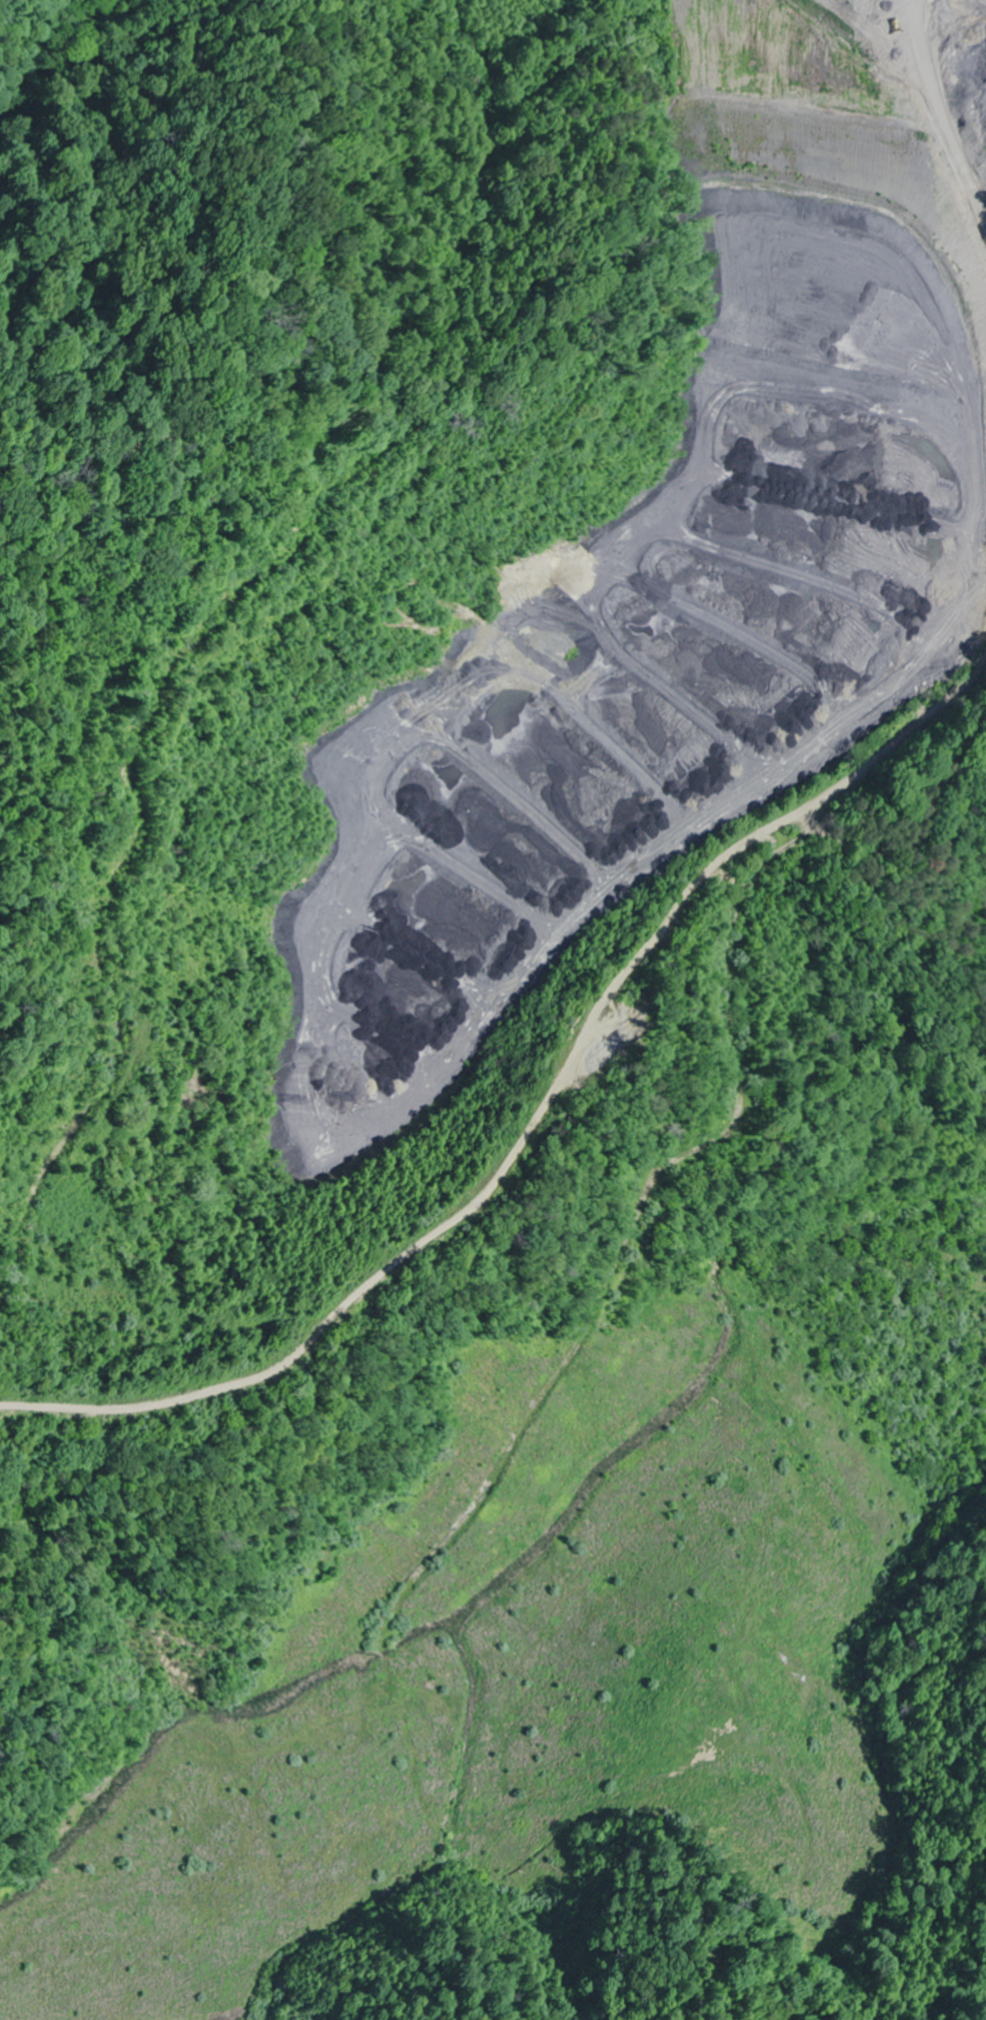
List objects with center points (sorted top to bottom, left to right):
road: (938, 96)
road: (798, 815)
road: (911, 858)

